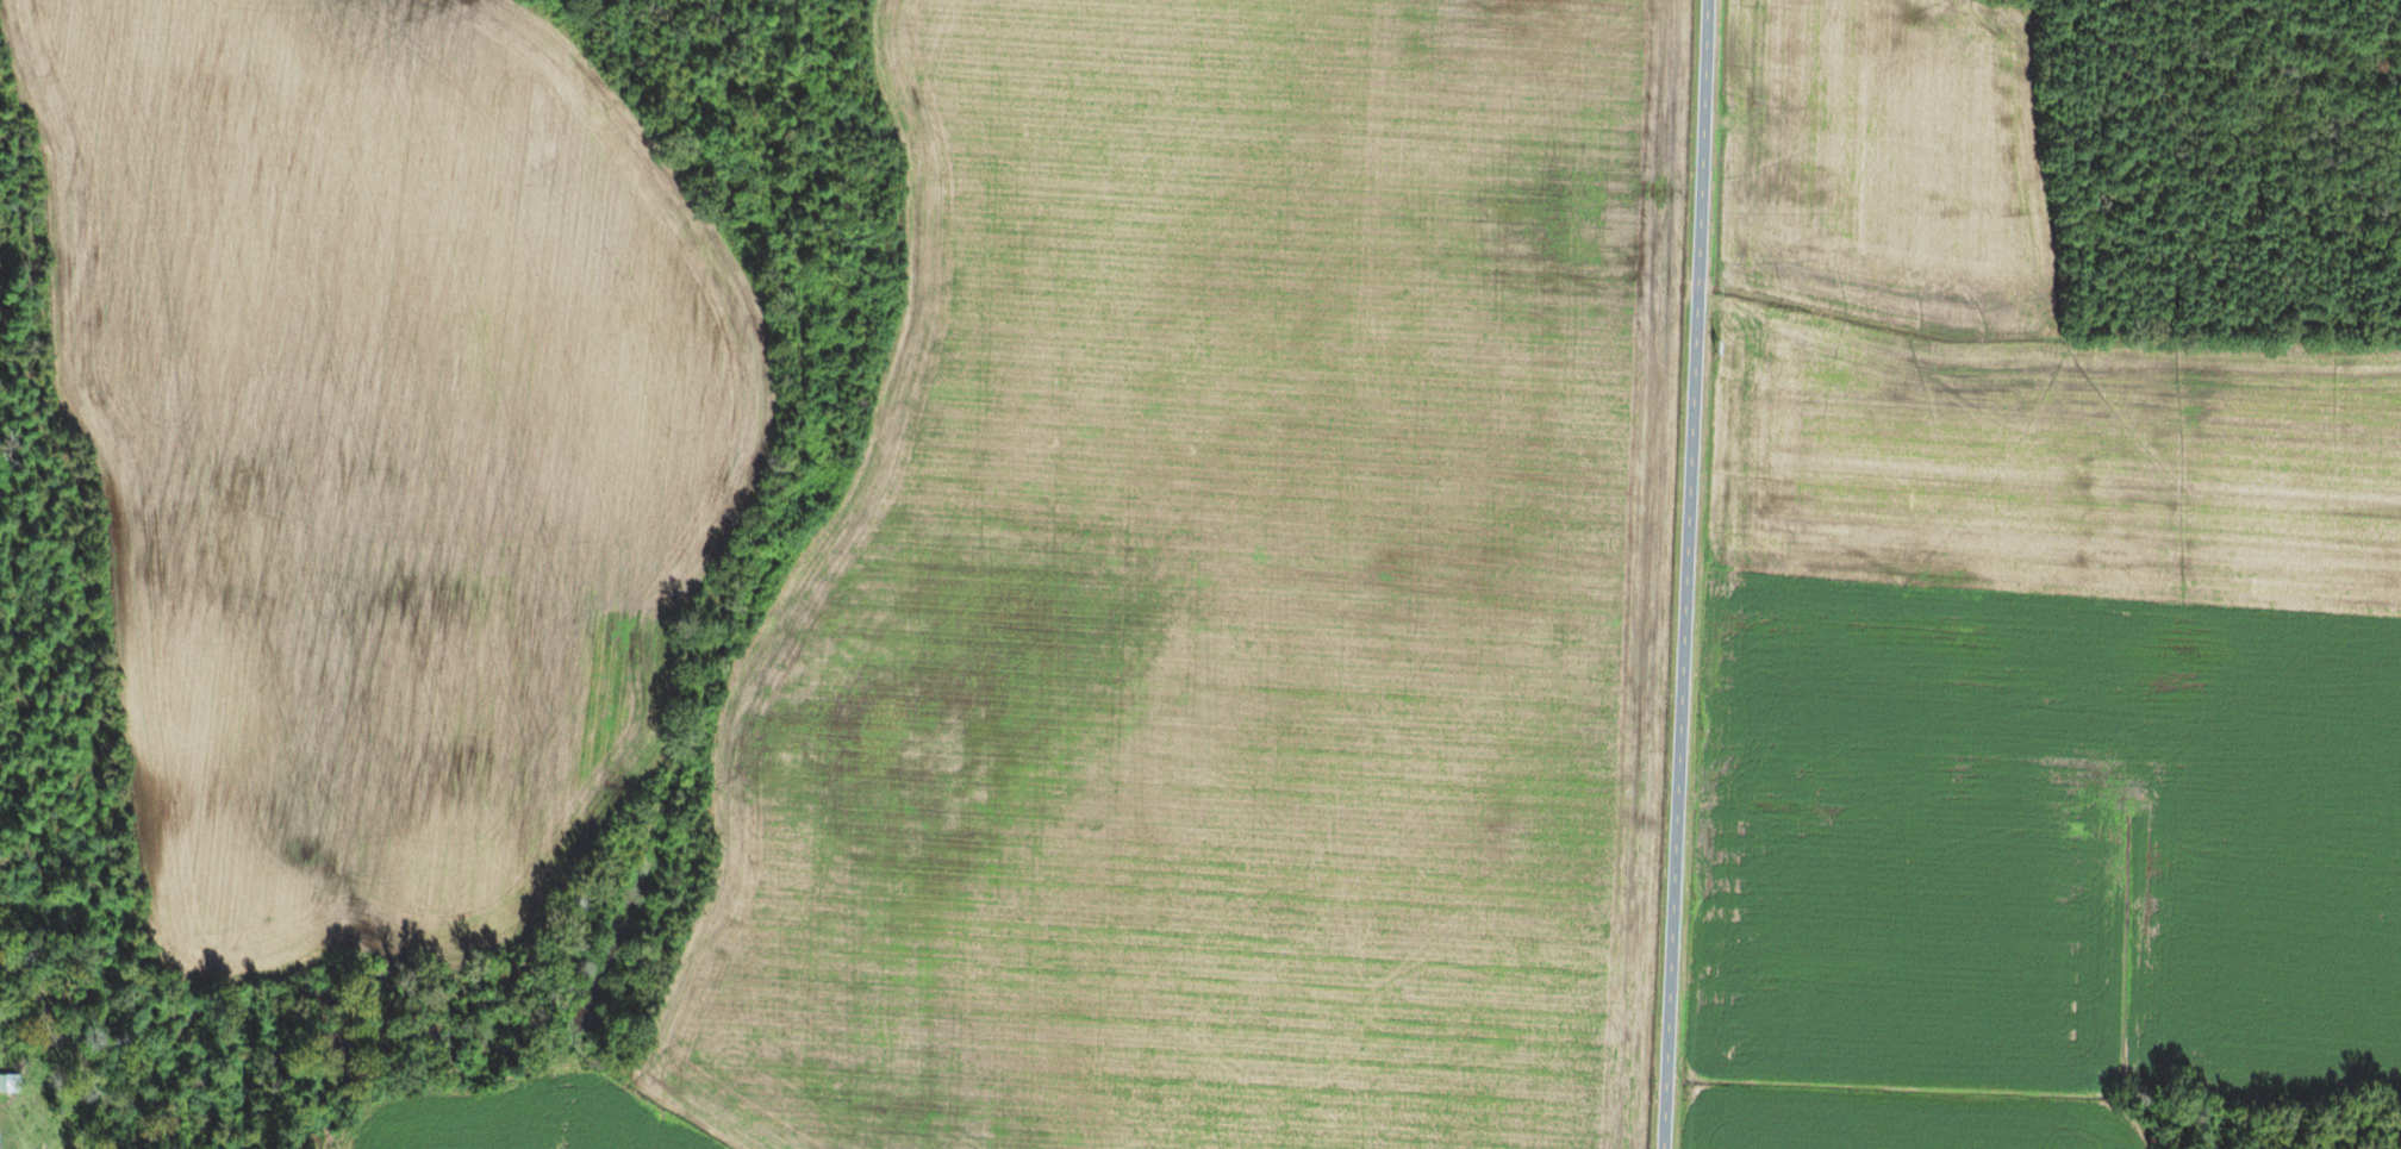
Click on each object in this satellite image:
road: (1695, 574)
building: (4, 1082)

